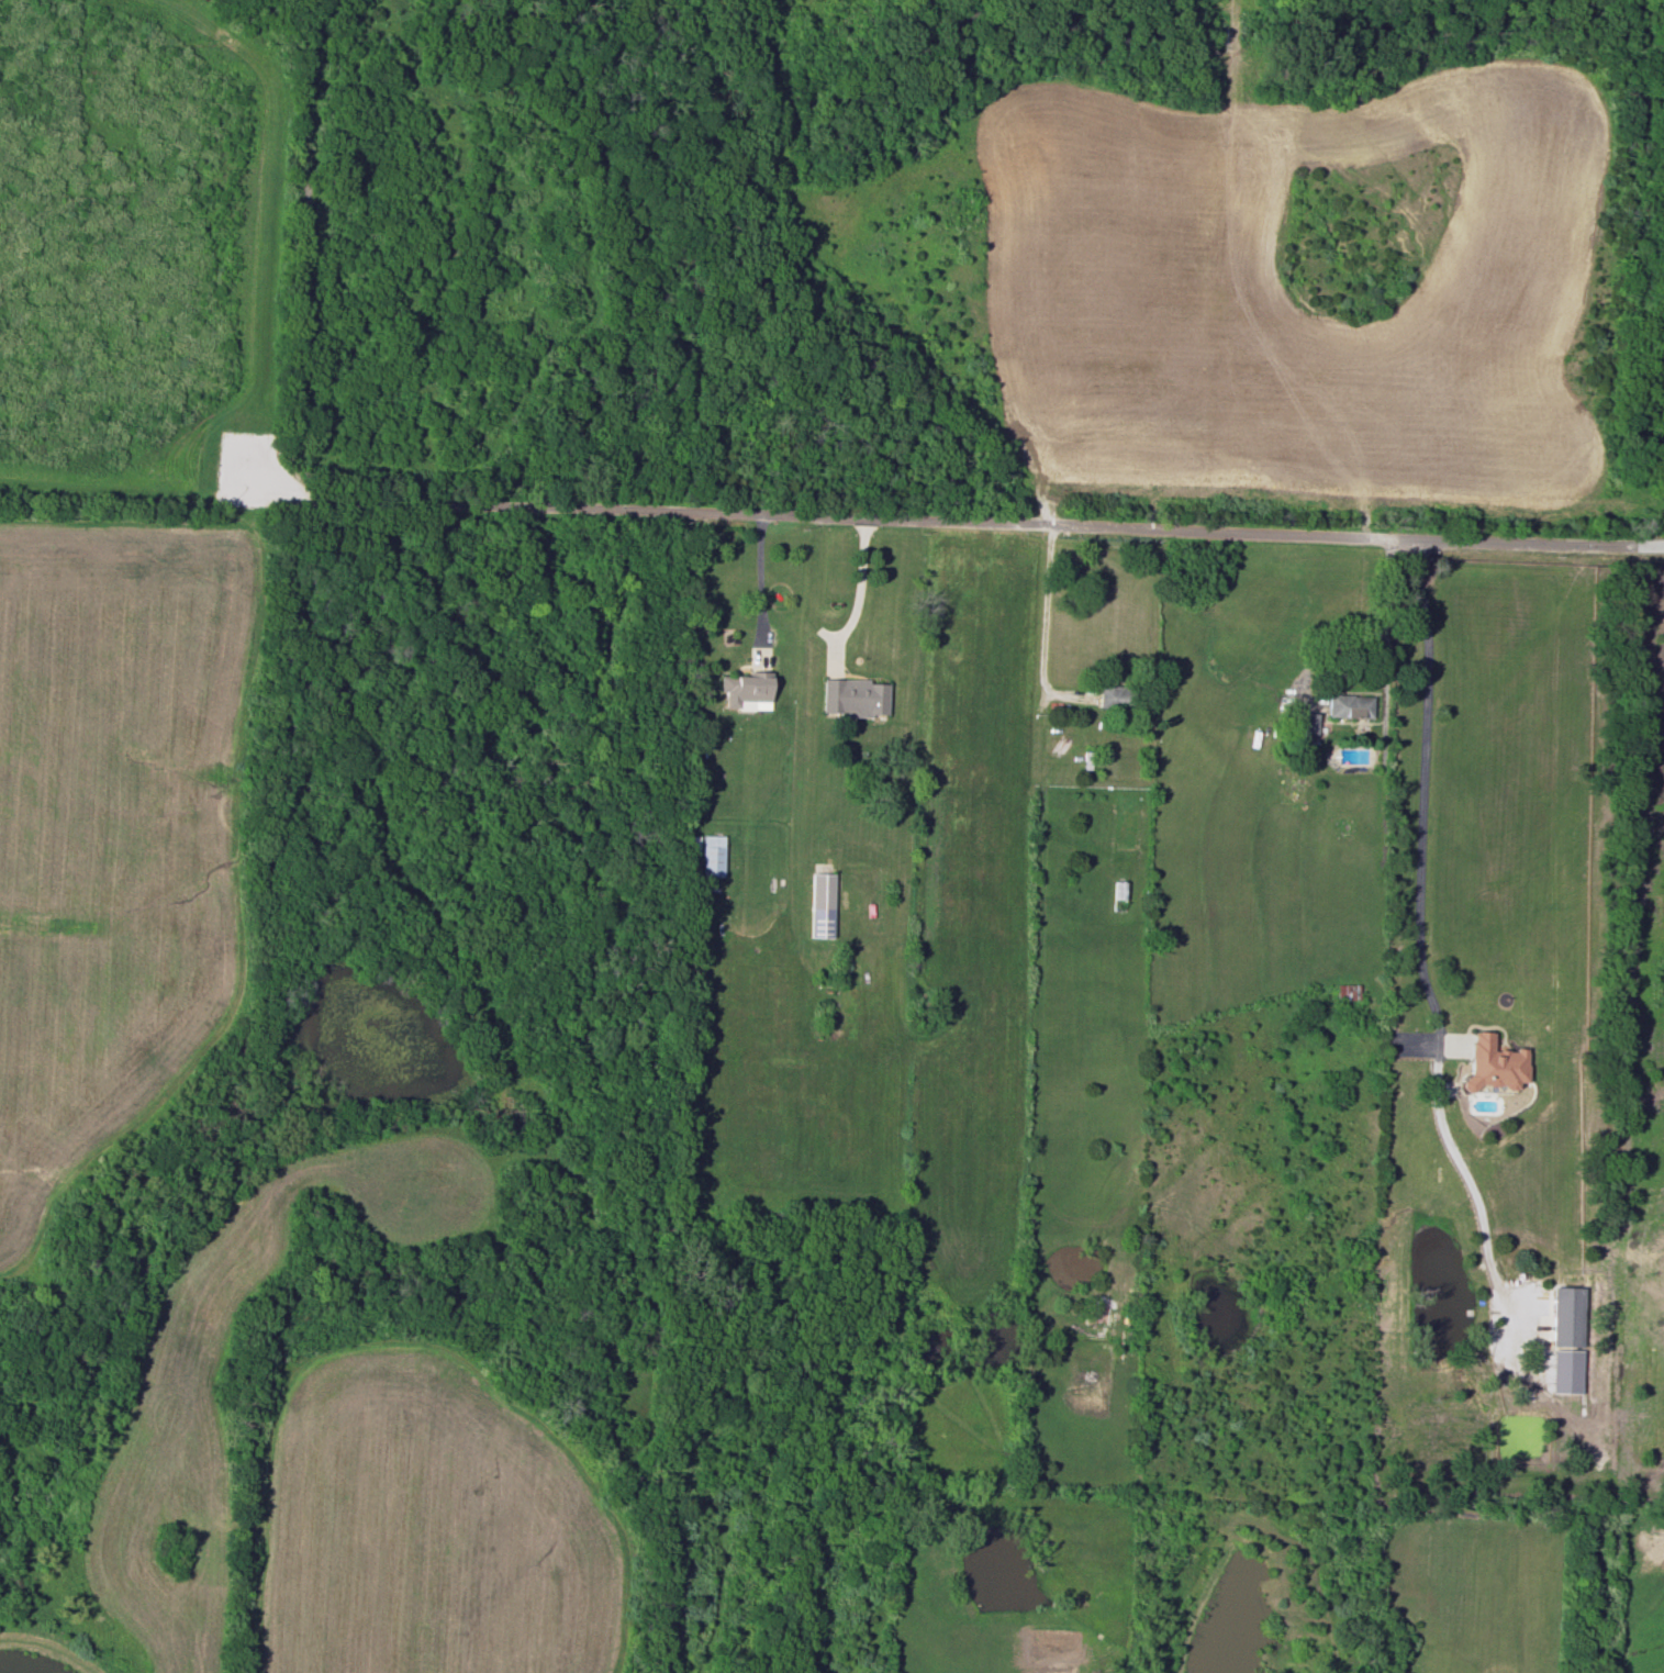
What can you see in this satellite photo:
park: (1174, 261)
park: (361, 274)
road: (257, 335)
road: (983, 526)
road: (760, 578)
road: (859, 592)
road: (1376, 627)
road: (1043, 633)
building: (747, 689)
building: (1108, 694)
building: (855, 698)
building: (1349, 705)
building: (1305, 723)
crop: (112, 846)
building: (712, 855)
building: (822, 905)
road: (1417, 906)
building: (1345, 992)
building: (1493, 1064)
building: (1565, 1316)
crop: (170, 1435)
crop: (433, 1526)

